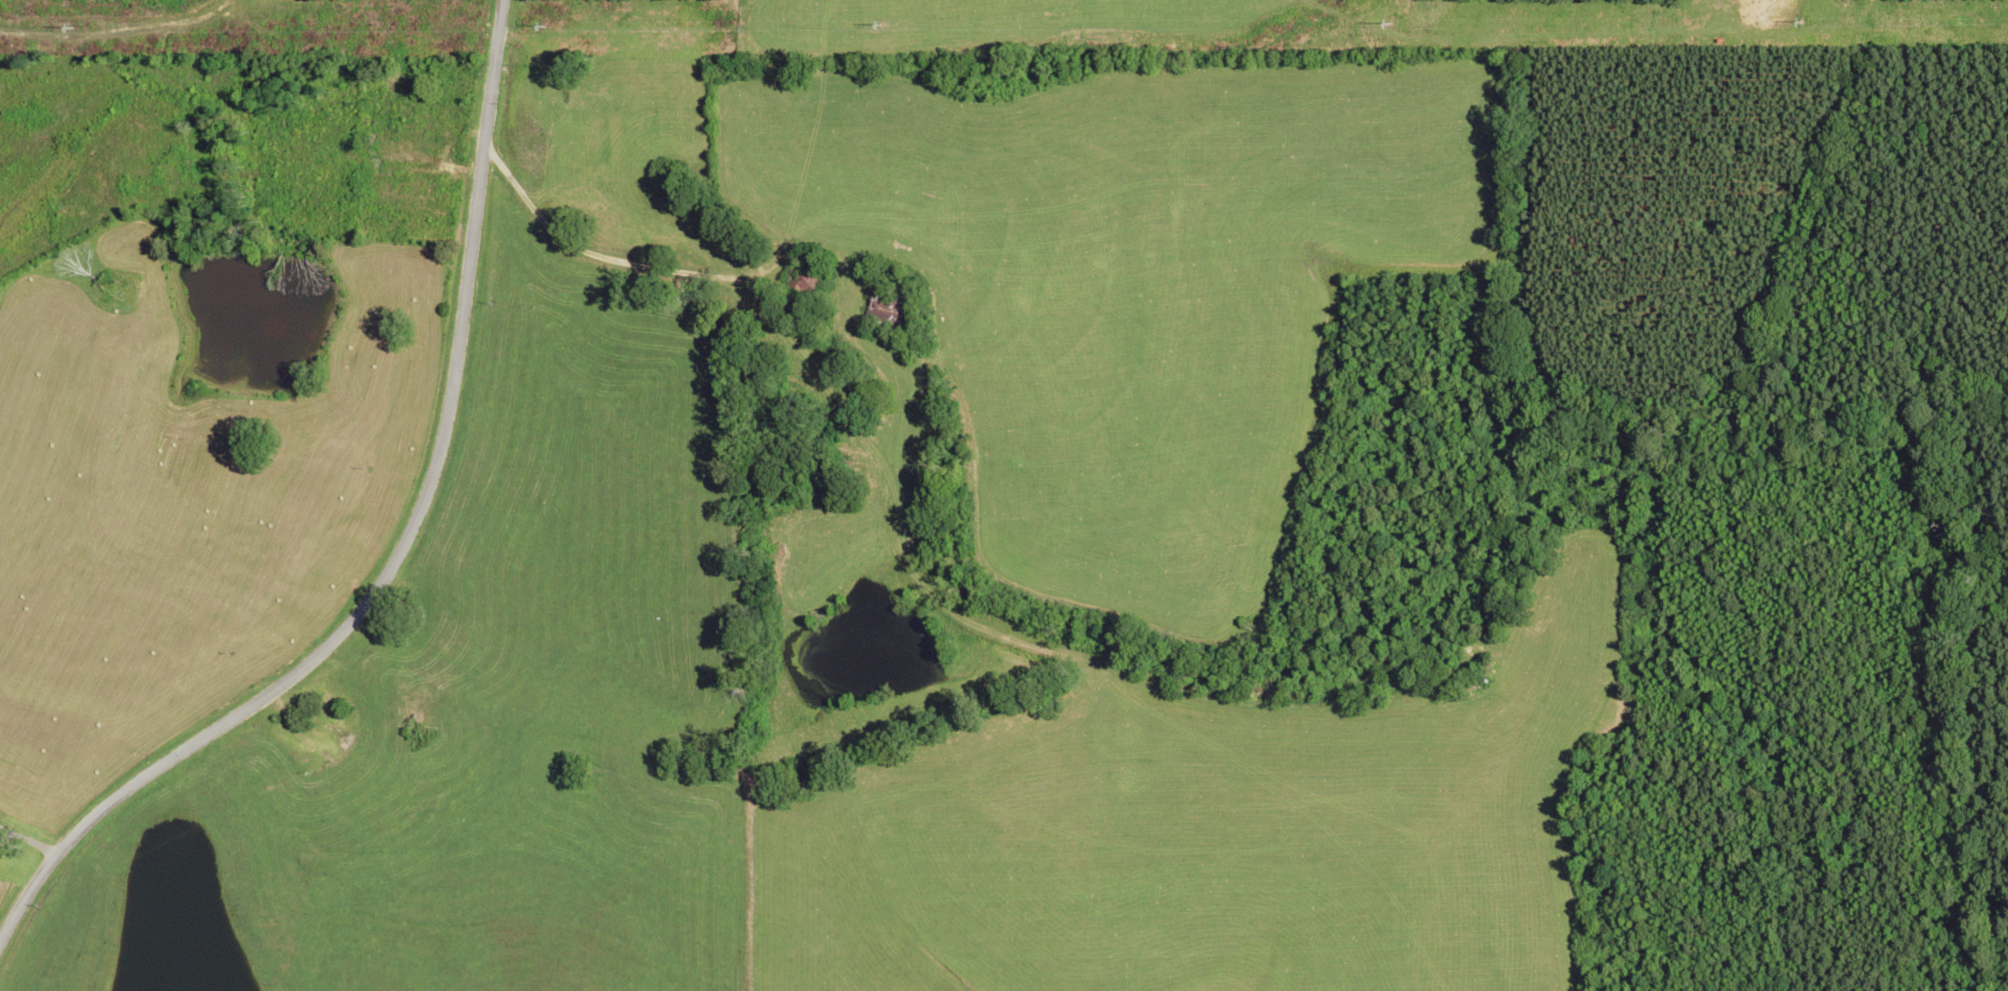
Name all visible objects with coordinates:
building: (803, 281)
building: (887, 306)
road: (396, 551)
building: (332, 734)

